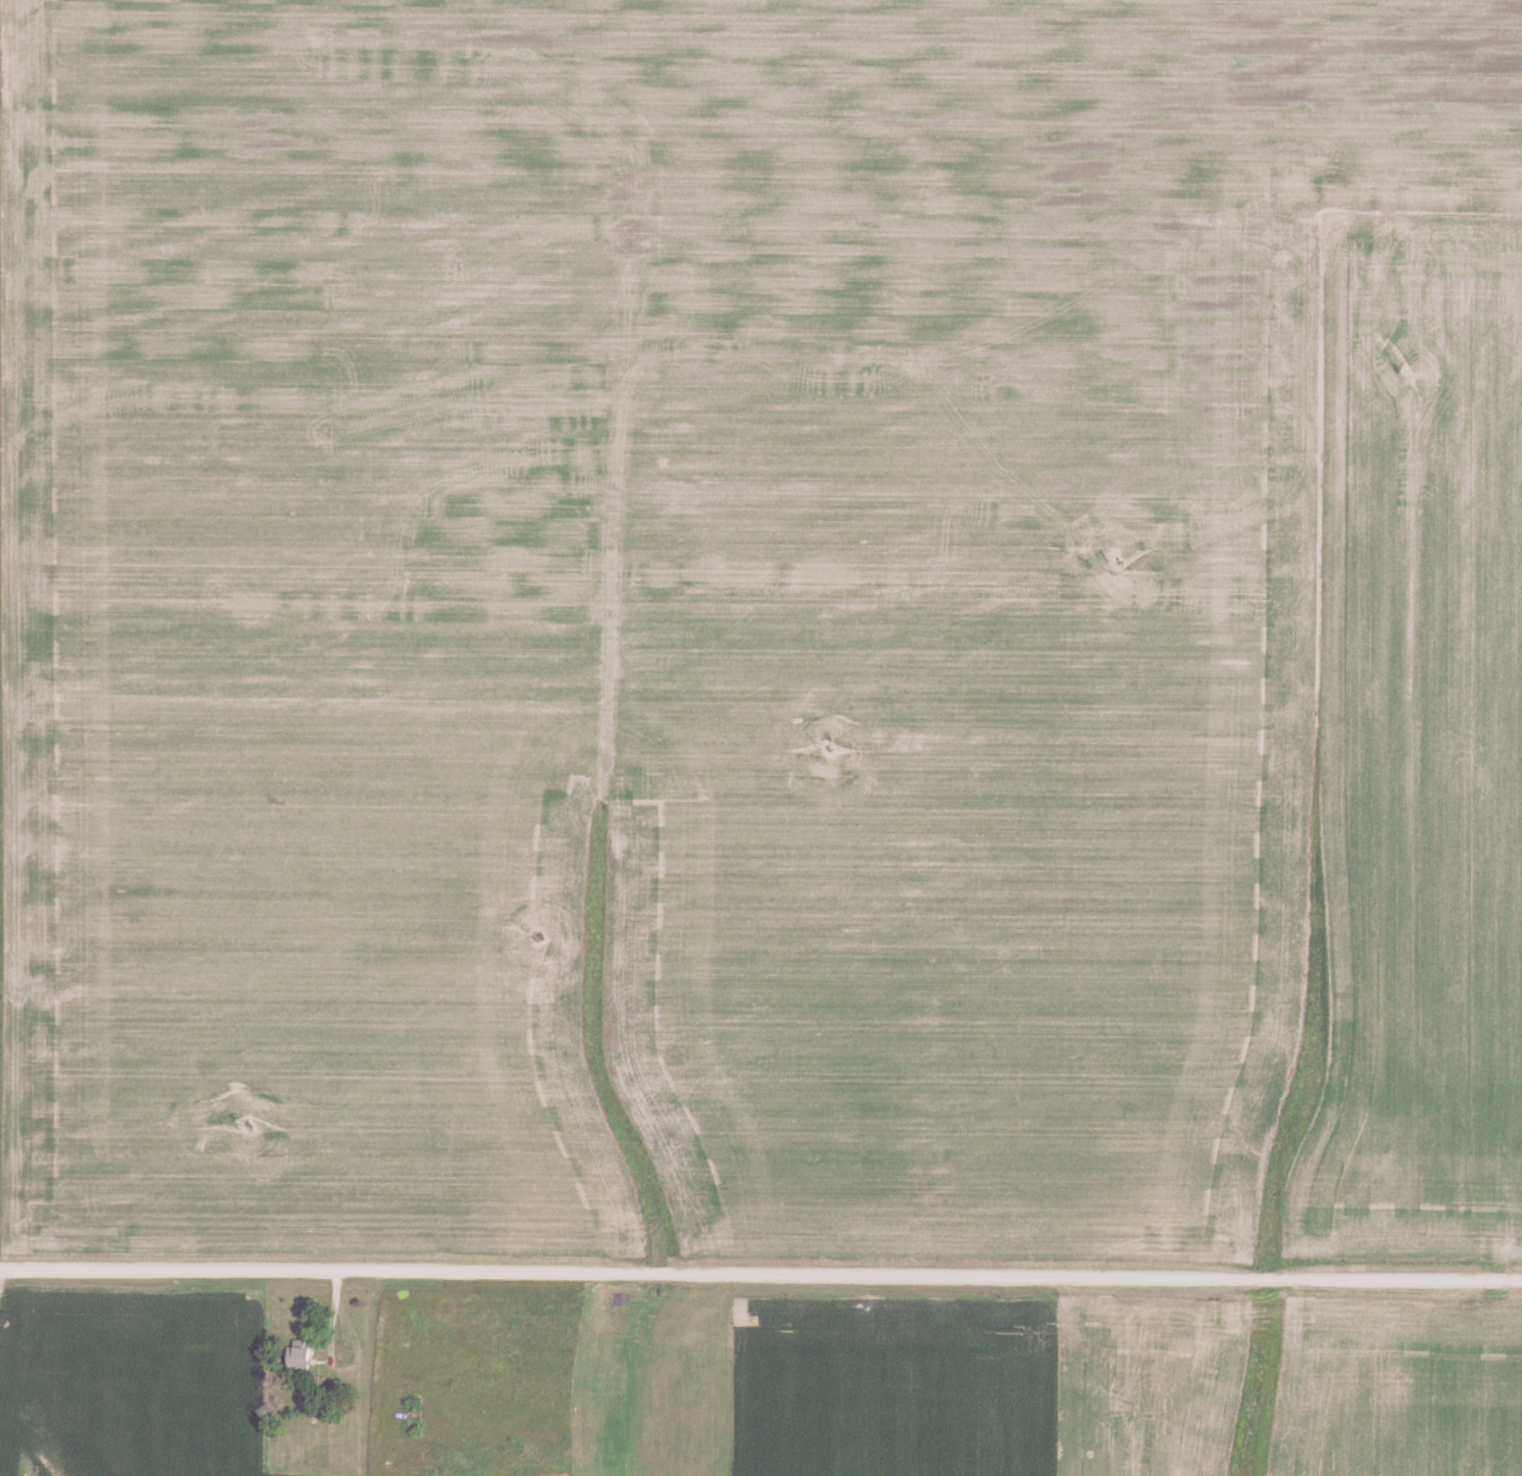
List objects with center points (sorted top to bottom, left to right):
road: (761, 1274)
building: (296, 1357)

